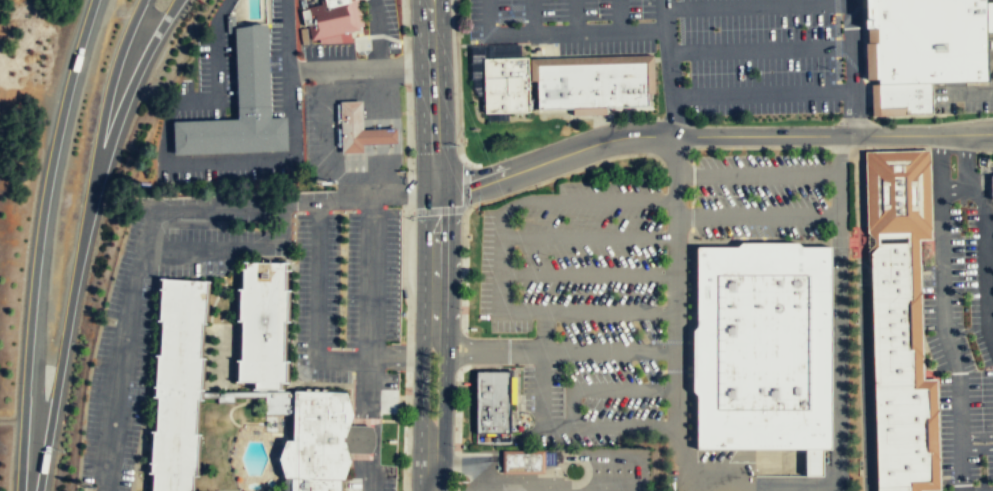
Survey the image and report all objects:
road: (426, 2)
road: (428, 2)
road: (757, 4)
road: (428, 9)
road: (664, 14)
road: (532, 15)
road: (575, 15)
road: (619, 15)
road: (487, 16)
building: (331, 18)
building: (230, 23)
road: (576, 30)
road: (286, 35)
building: (929, 40)
parking lot: (702, 48)
road: (759, 50)
road: (868, 59)
road: (595, 60)
parking lot: (283, 61)
road: (851, 67)
road: (359, 68)
parking lot: (207, 82)
road: (671, 83)
building: (506, 84)
building: (592, 85)
road: (458, 88)
road: (964, 93)
road: (762, 95)
parking lot: (961, 96)
building: (902, 99)
building: (239, 107)
road: (116, 122)
building: (351, 126)
road: (709, 135)
building: (379, 136)
gas station: (379, 136)
road: (929, 145)
road: (768, 148)
road: (168, 162)
parking lot: (224, 167)
road: (434, 173)
road: (693, 175)
road: (758, 175)
road: (979, 177)
building: (991, 185)
road: (952, 187)
building: (893, 194)
road: (693, 196)
parking lot: (770, 196)
road: (354, 197)
road: (470, 206)
road: (464, 209)
road: (284, 210)
road: (411, 211)
road: (691, 217)
road: (758, 217)
street lamp: (220, 224)
road: (821, 229)
road: (984, 230)
road: (989, 230)
road: (590, 238)
road: (37, 242)
road: (80, 242)
road: (409, 245)
road: (253, 257)
road: (501, 260)
road: (989, 260)
building: (888, 270)
road: (465, 271)
road: (369, 274)
road: (590, 274)
road: (941, 285)
road: (214, 300)
parking lot: (348, 300)
road: (990, 303)
parking lot: (582, 308)
street lamp: (462, 309)
road: (679, 309)
road: (839, 309)
road: (863, 312)
road: (201, 322)
road: (913, 329)
road: (545, 330)
parking lot: (124, 336)
building: (889, 341)
building: (760, 346)
road: (502, 347)
road: (292, 348)
road: (460, 350)
road: (620, 351)
road: (208, 357)
road: (121, 371)
road: (418, 384)
road: (444, 385)
road: (607, 388)
building: (493, 401)
building: (239, 402)
road: (230, 410)
road: (399, 412)
road: (573, 425)
road: (362, 426)
road: (457, 429)
road: (350, 431)
building: (899, 434)
road: (139, 436)
road: (976, 436)
road: (346, 439)
street lamp: (454, 446)
road: (977, 448)
road: (226, 457)
building: (523, 461)
road: (961, 463)
road: (429, 464)
parking lot: (371, 474)
road: (371, 481)
road: (760, 484)
building: (892, 488)
road: (225, 490)
road: (238, 490)
road: (240, 490)

